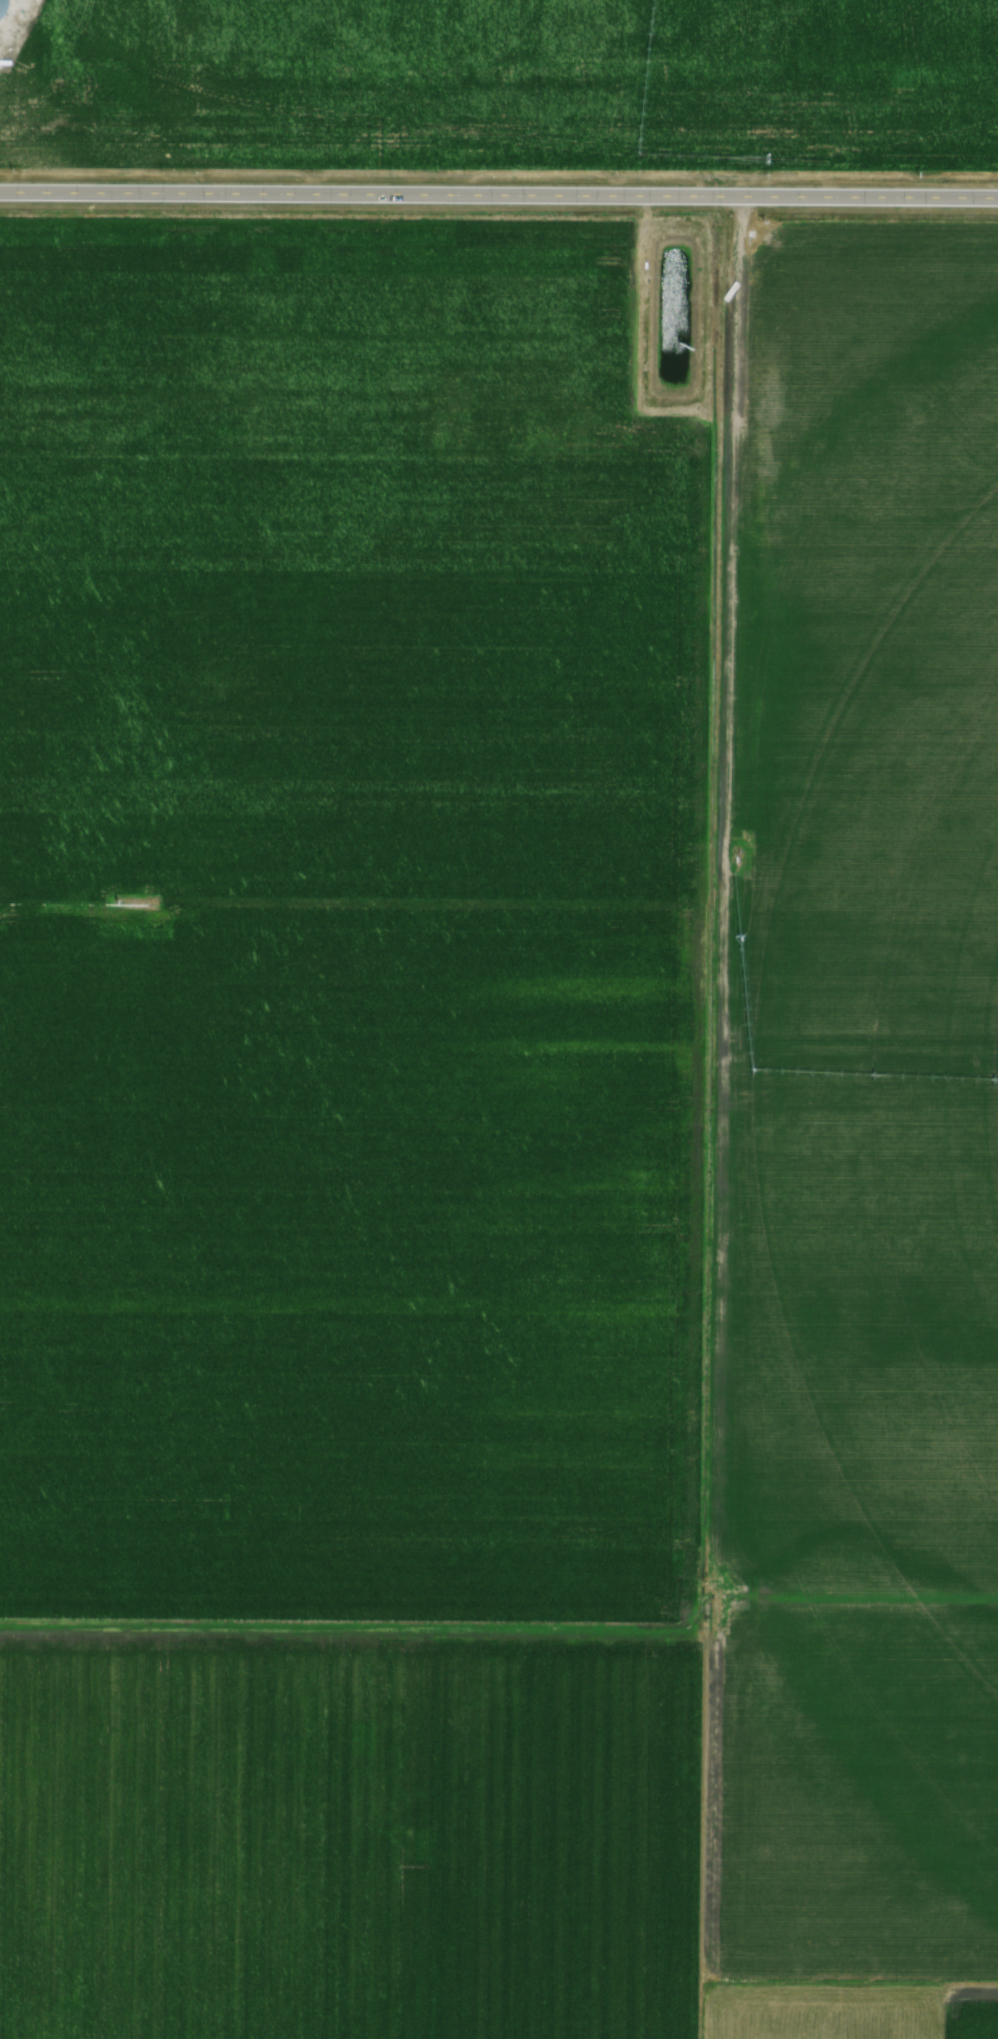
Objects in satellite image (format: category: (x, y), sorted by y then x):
road: (499, 200)

